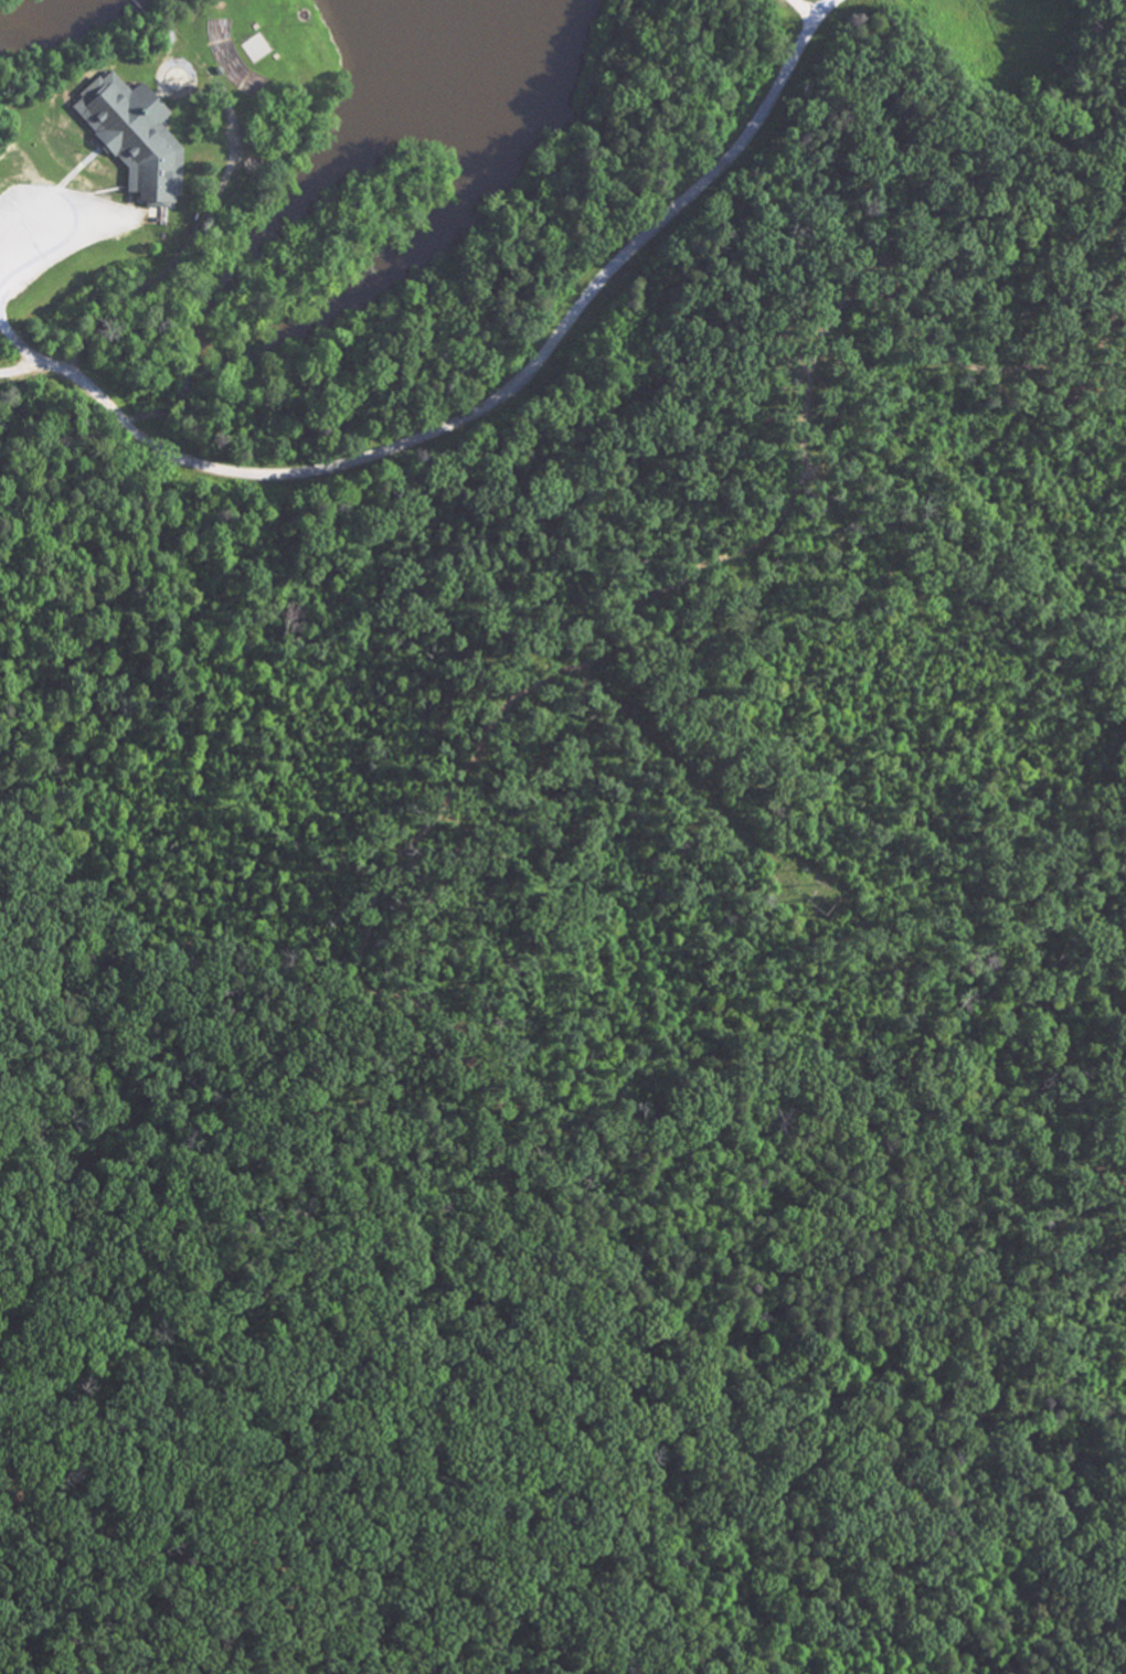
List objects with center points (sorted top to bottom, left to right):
road: (135, 2)
road: (184, 41)
building: (245, 57)
road: (75, 88)
building: (135, 138)
parking lot: (52, 232)
road: (43, 254)
road: (903, 324)
road: (19, 346)
road: (486, 402)
building: (488, 1052)
building: (467, 1073)
building: (493, 1078)

